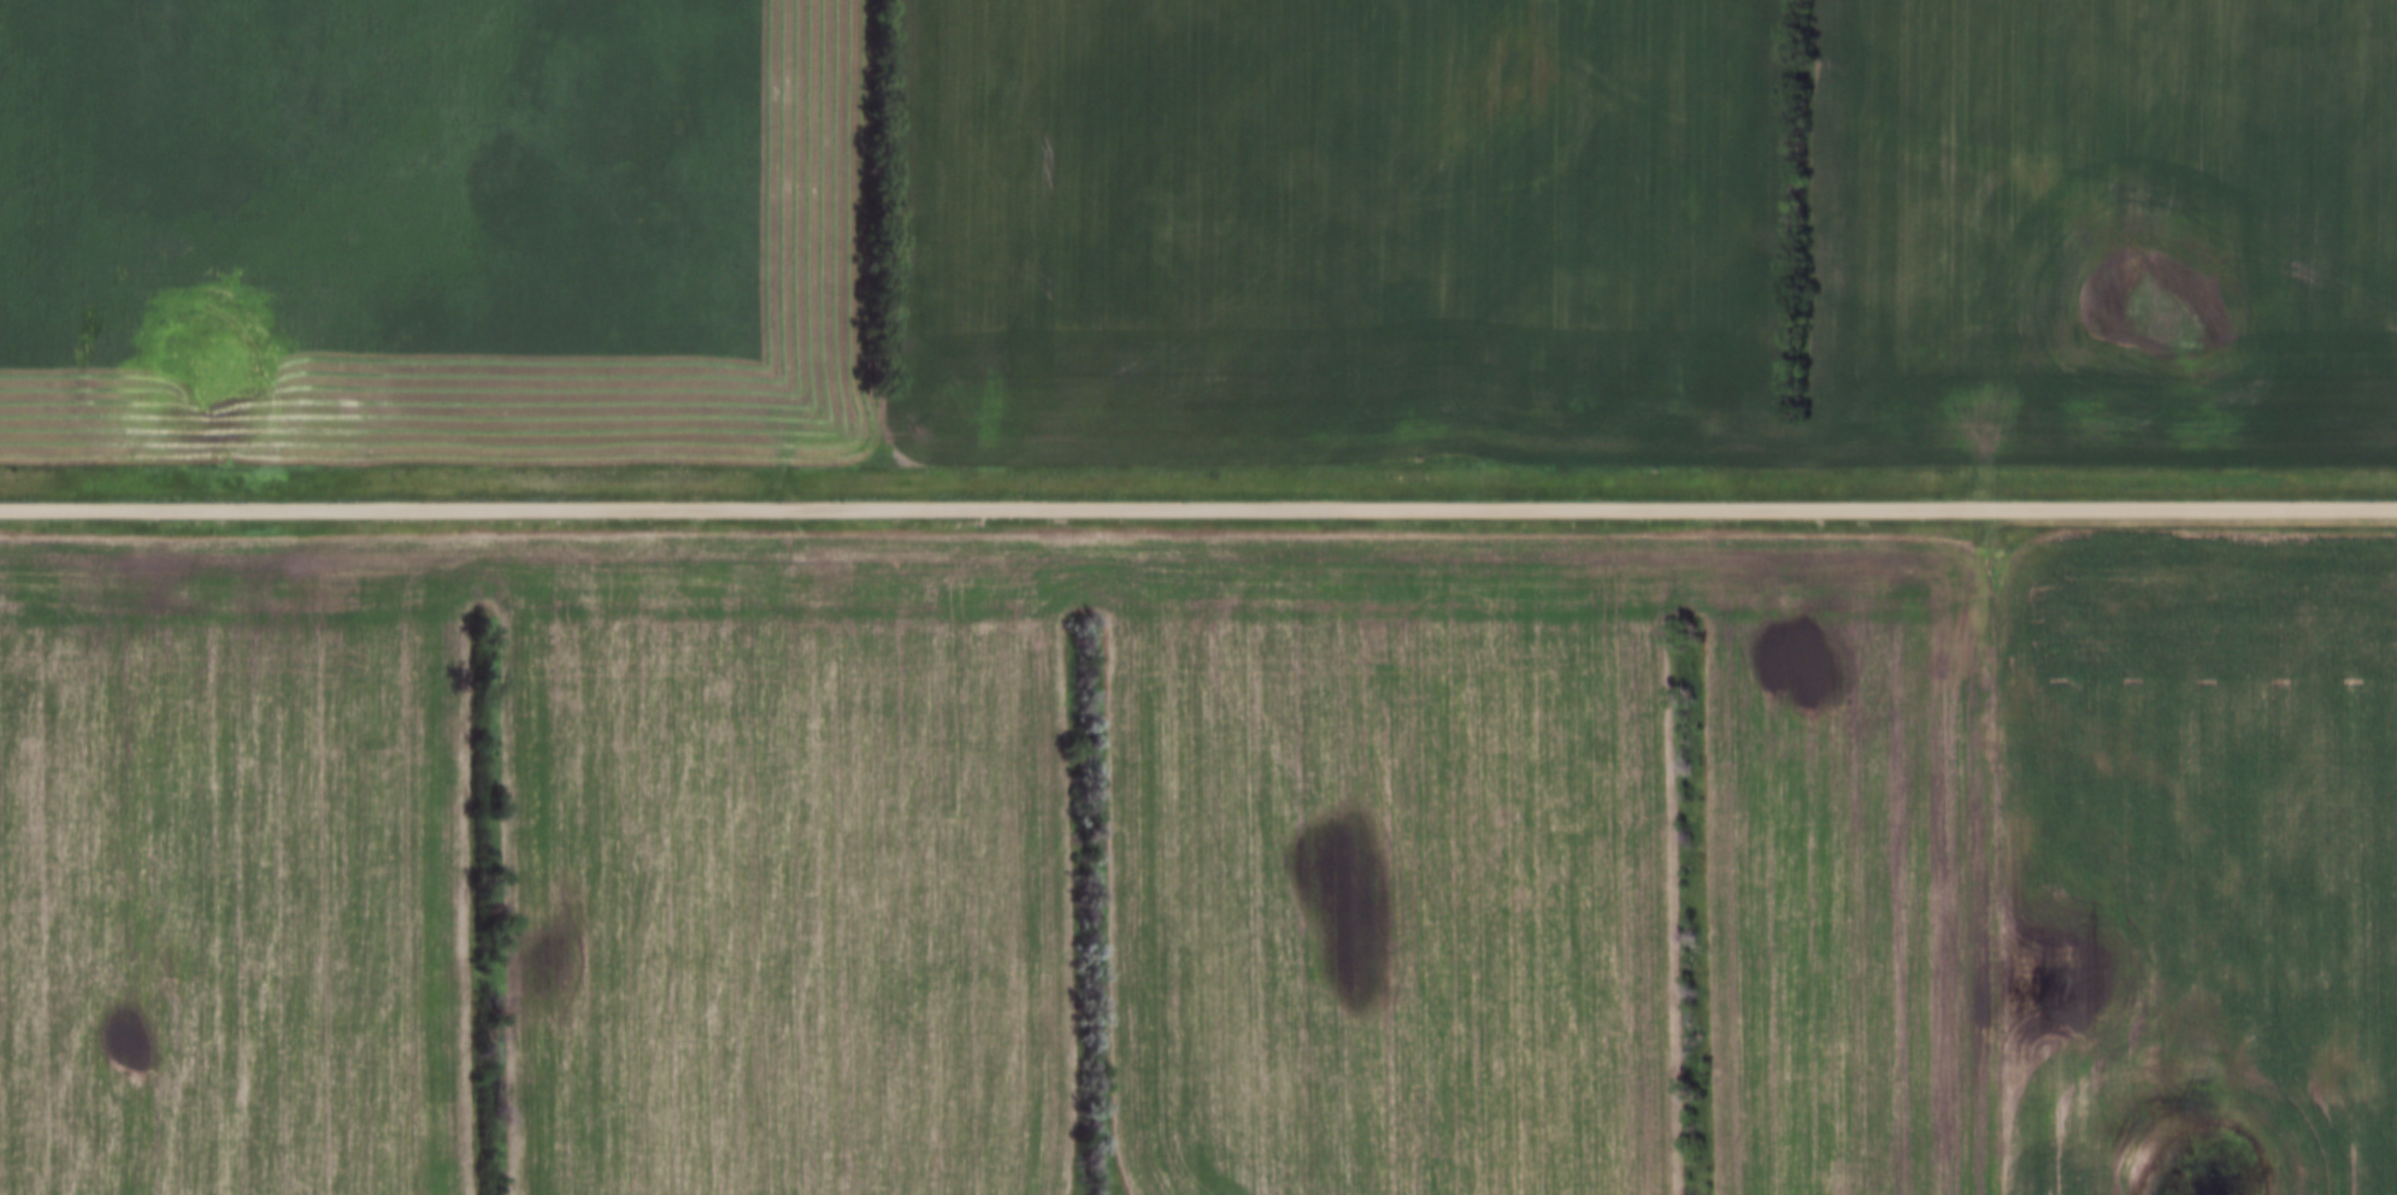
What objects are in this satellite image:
road: (1197, 507)

